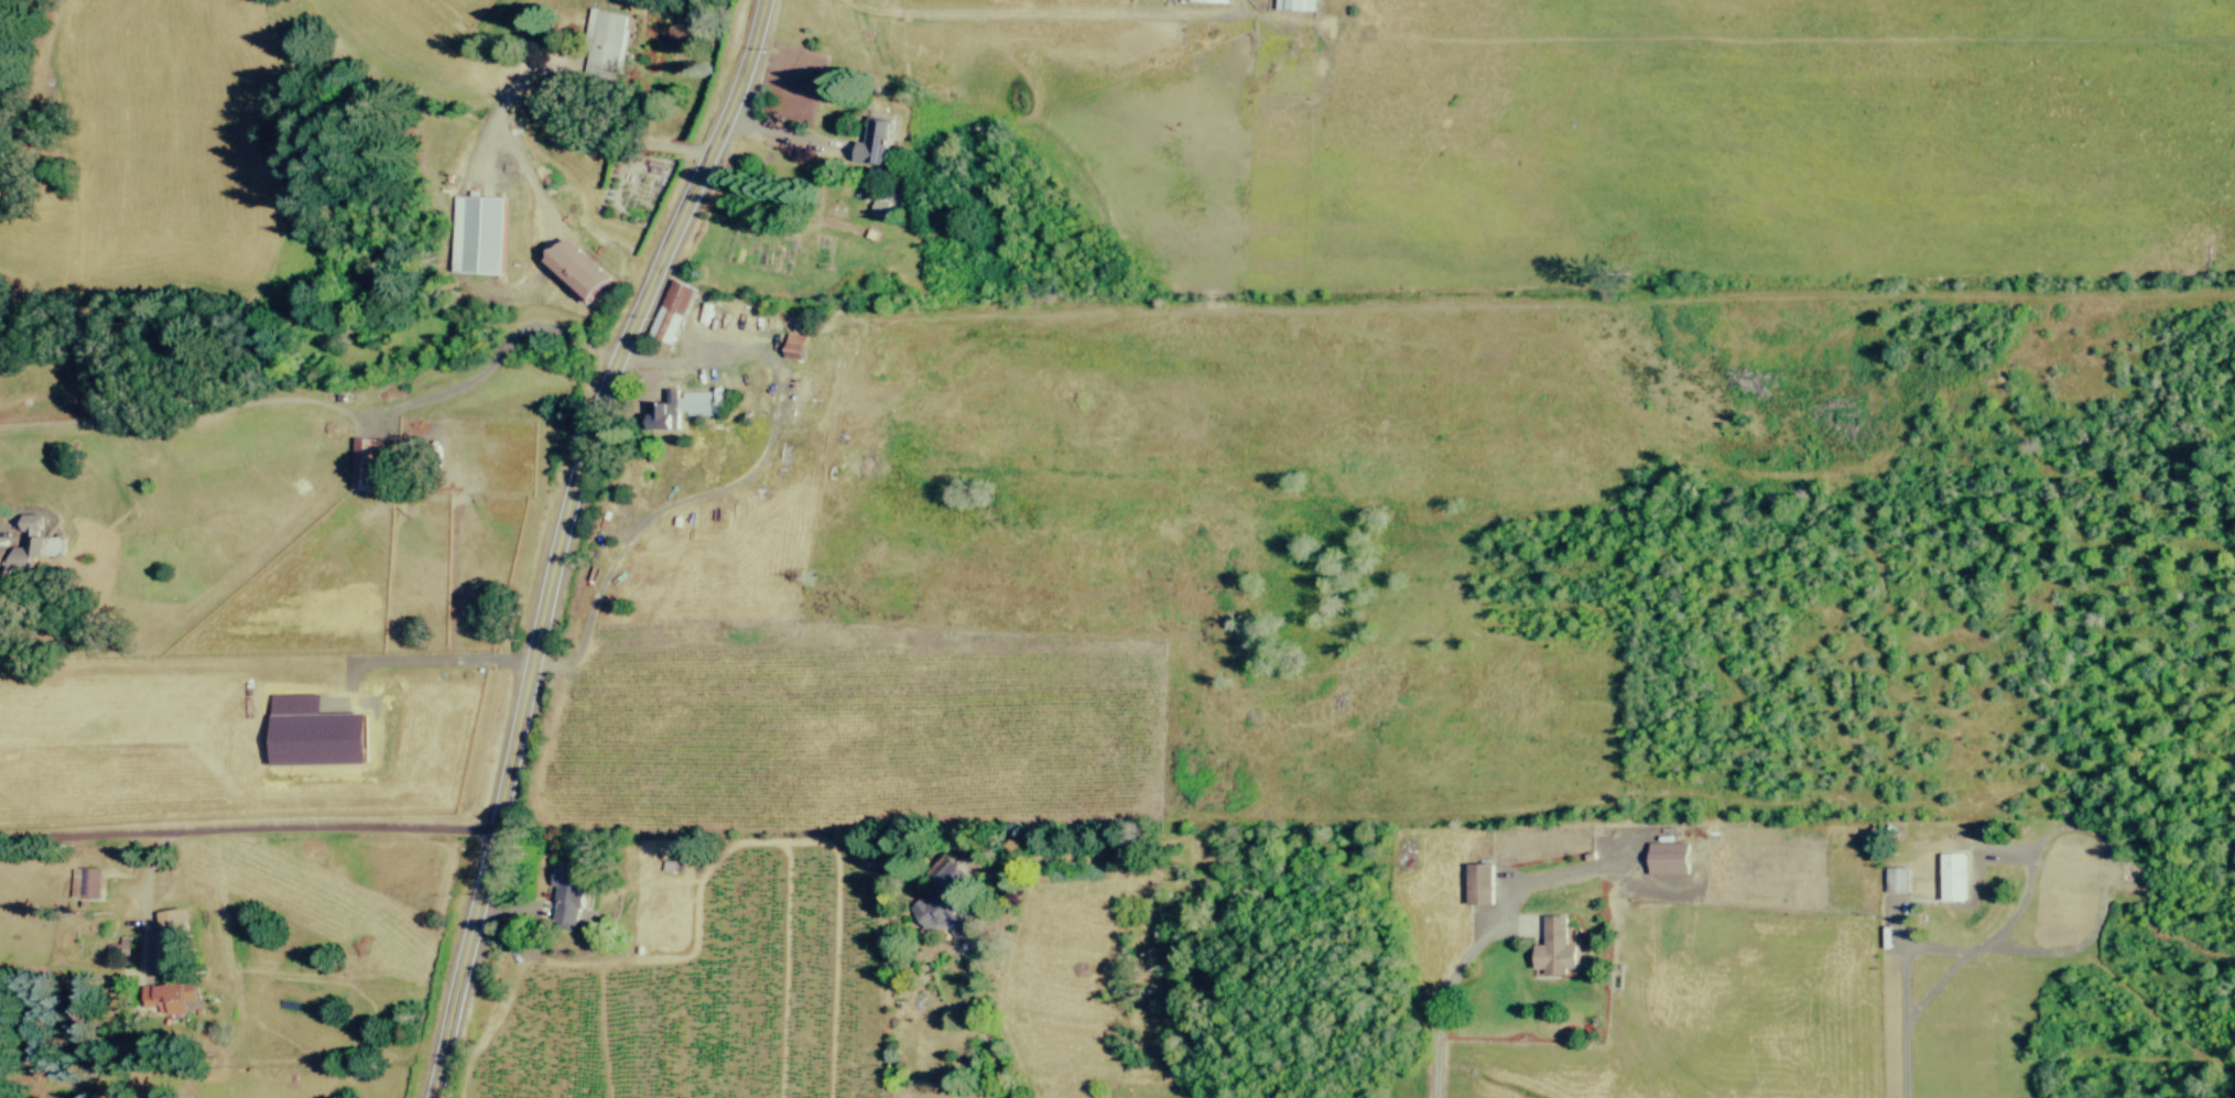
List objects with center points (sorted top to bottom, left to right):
building: (1214, 0)
building: (1295, 3)
road: (1062, 15)
building: (603, 41)
road: (785, 132)
building: (876, 141)
building: (479, 233)
building: (574, 270)
building: (671, 311)
building: (794, 346)
building: (684, 403)
building: (362, 463)
road: (731, 480)
road: (560, 536)
building: (30, 545)
road: (445, 660)
crop: (845, 725)
building: (316, 739)
road: (253, 829)
road: (74, 833)
building: (1668, 858)
building: (669, 863)
building: (1950, 877)
building: (1897, 879)
building: (85, 881)
building: (1477, 883)
road: (2104, 885)
building: (943, 891)
building: (566, 894)
road: (506, 910)
building: (173, 934)
road: (1479, 936)
building: (1556, 945)
building: (121, 948)
road: (975, 981)
road: (1939, 985)
building: (165, 999)
road: (1906, 1002)

